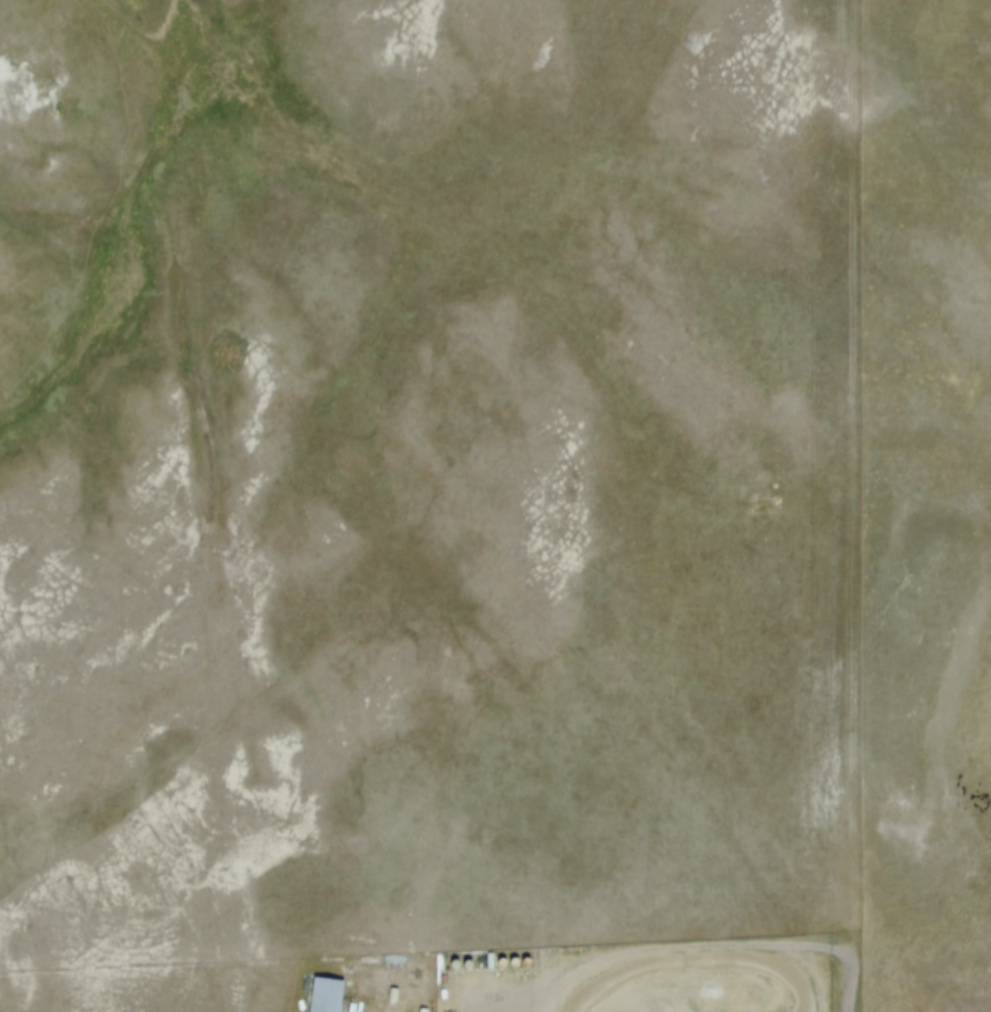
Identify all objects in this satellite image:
road: (918, 179)
road: (850, 506)
raceway: (684, 952)
raceway: (726, 983)
building: (327, 990)
raceway: (652, 1006)

